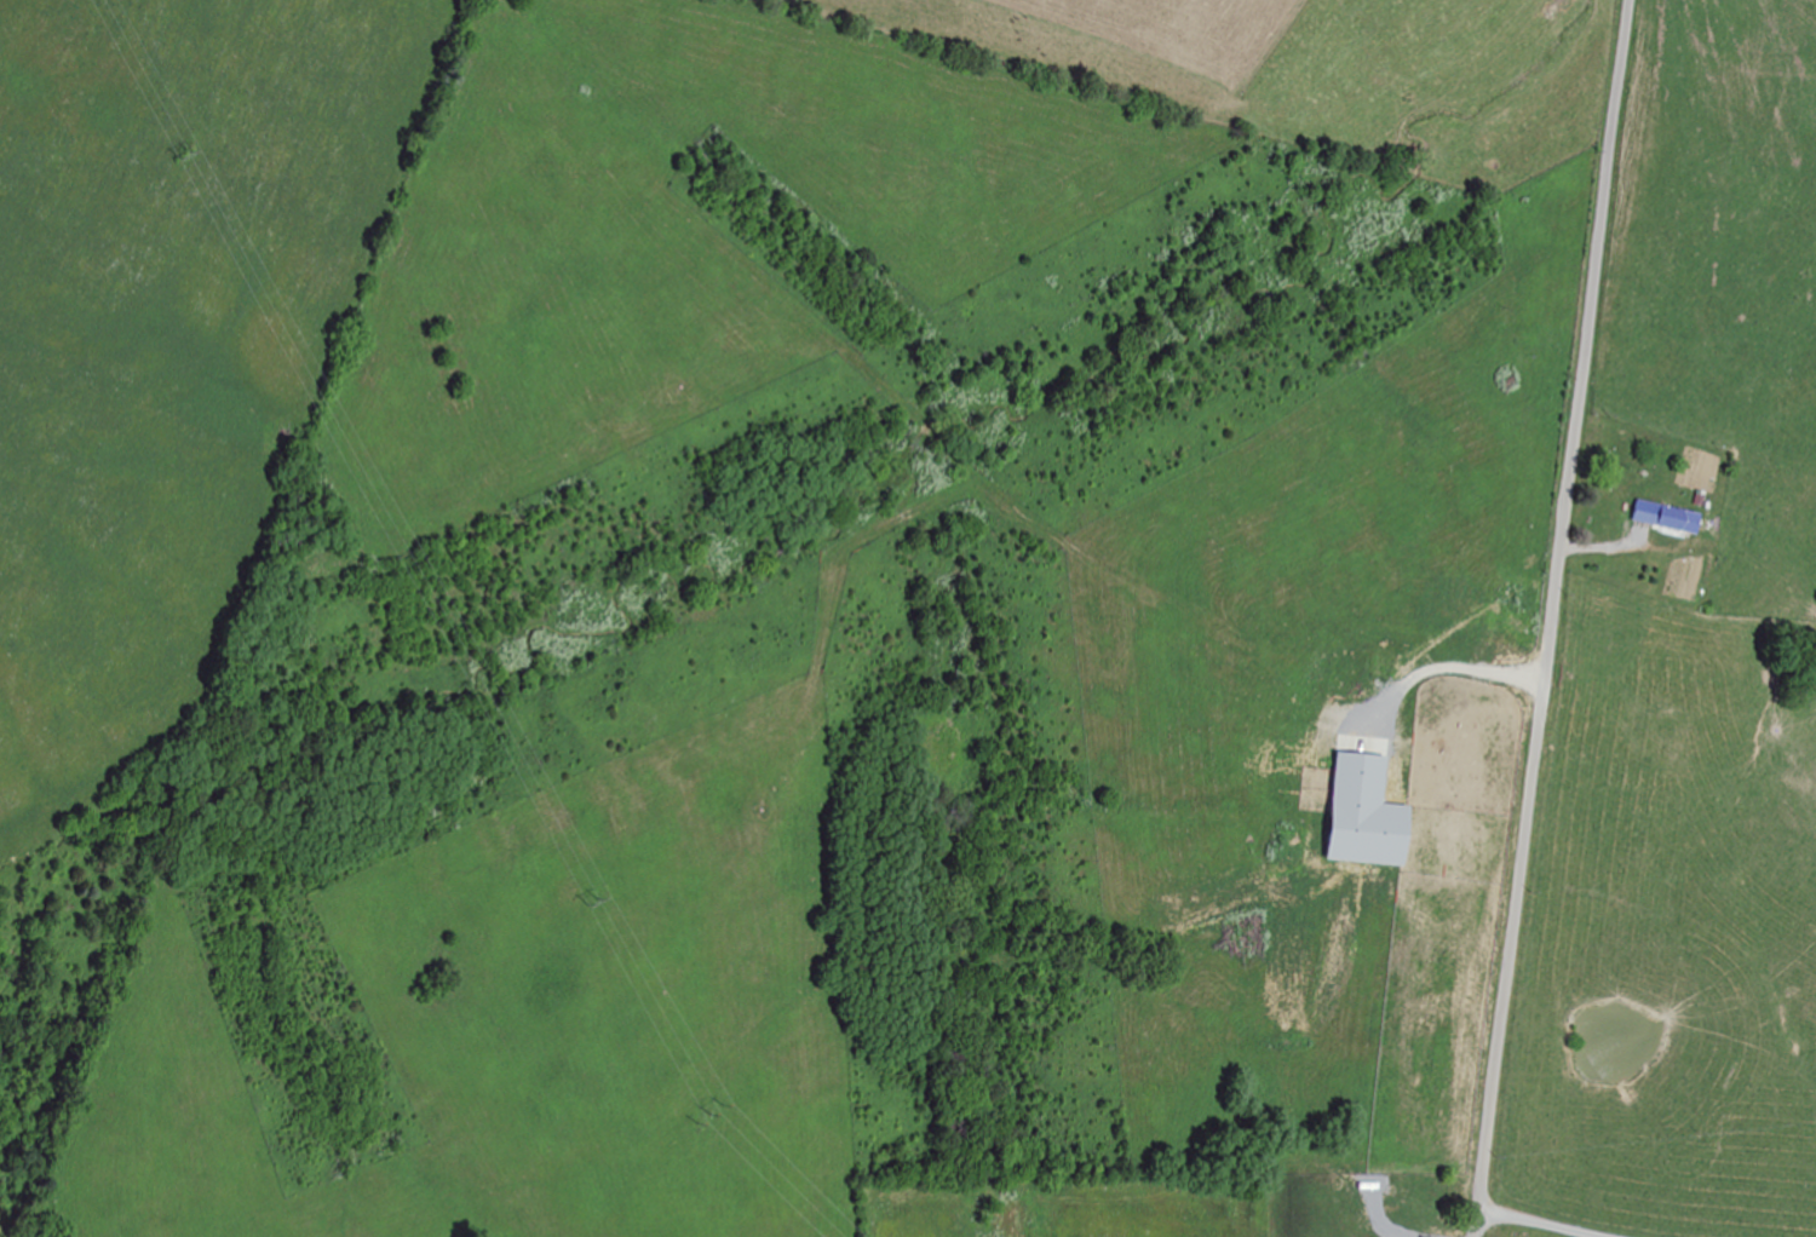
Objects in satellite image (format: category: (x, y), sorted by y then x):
building: (1672, 517)
road: (1551, 617)
building: (1518, 658)
building: (1393, 1209)

